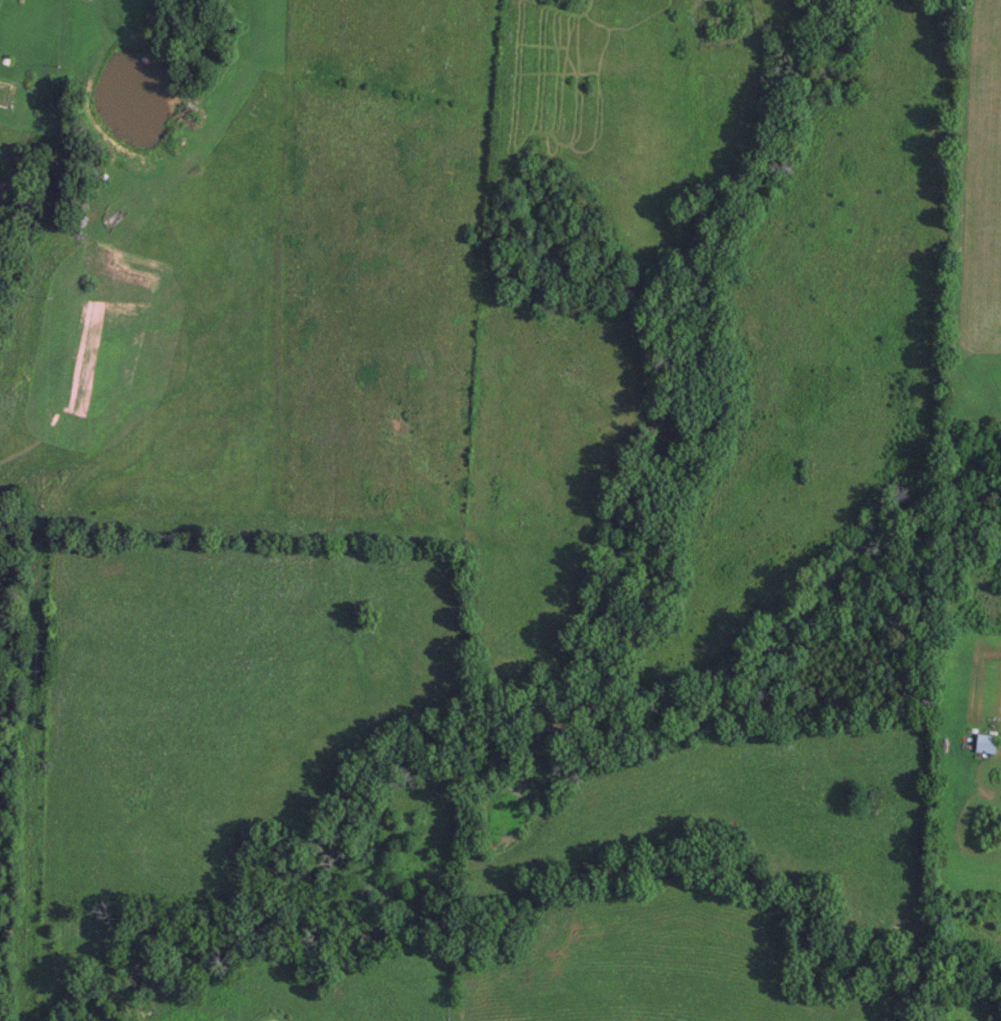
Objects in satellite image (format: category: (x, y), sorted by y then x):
building: (987, 745)

